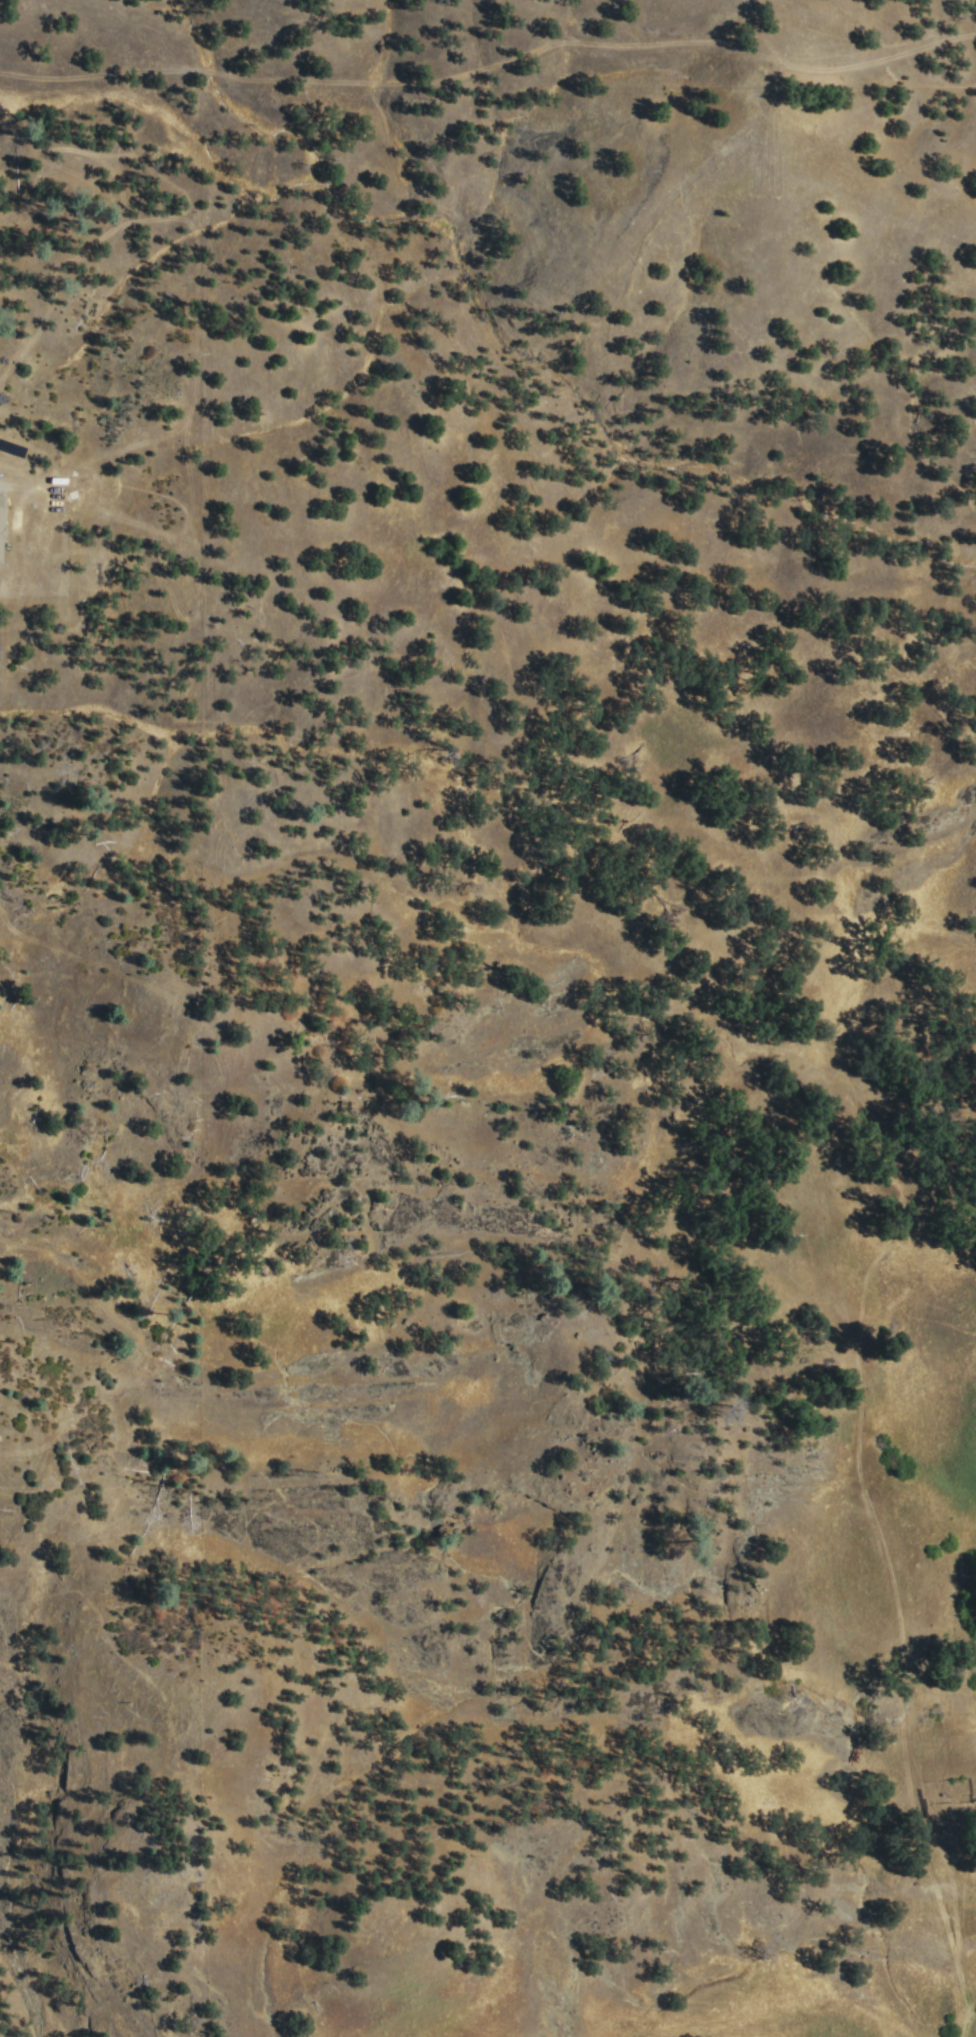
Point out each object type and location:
road: (761, 30)
road: (877, 60)
road: (393, 81)
road: (956, 1942)

